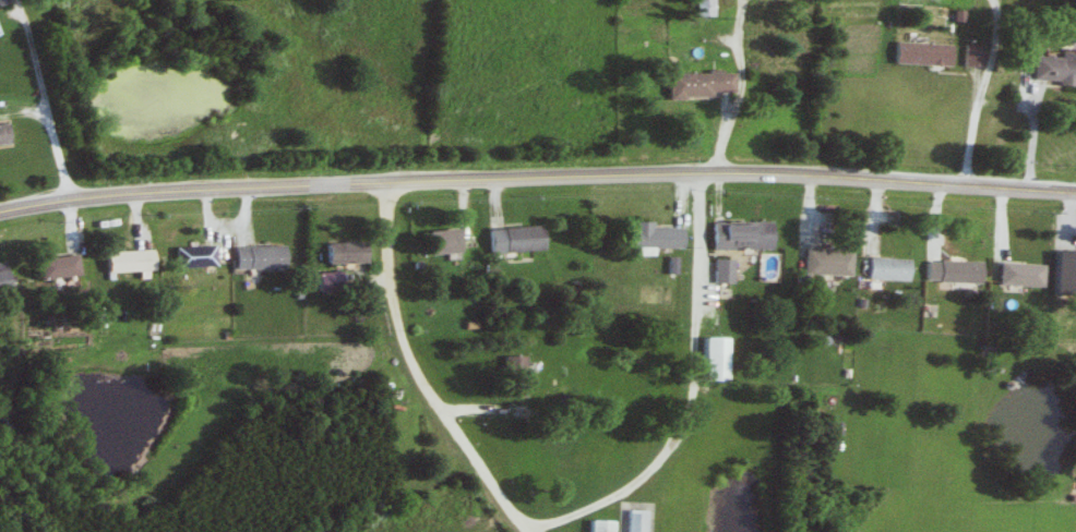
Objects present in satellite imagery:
building: (701, 8)
building: (919, 53)
building: (1053, 71)
building: (696, 85)
road: (733, 88)
road: (979, 93)
road: (44, 104)
building: (0, 138)
road: (537, 177)
building: (738, 237)
building: (651, 238)
building: (514, 241)
building: (439, 242)
building: (343, 253)
building: (191, 257)
building: (256, 258)
road: (697, 259)
building: (120, 262)
building: (824, 263)
building: (52, 267)
building: (885, 270)
building: (718, 271)
building: (951, 273)
building: (1016, 275)
building: (1068, 277)
building: (1, 283)
building: (710, 360)
road: (415, 372)
building: (511, 378)
road: (611, 498)
building: (632, 521)
building: (596, 527)

